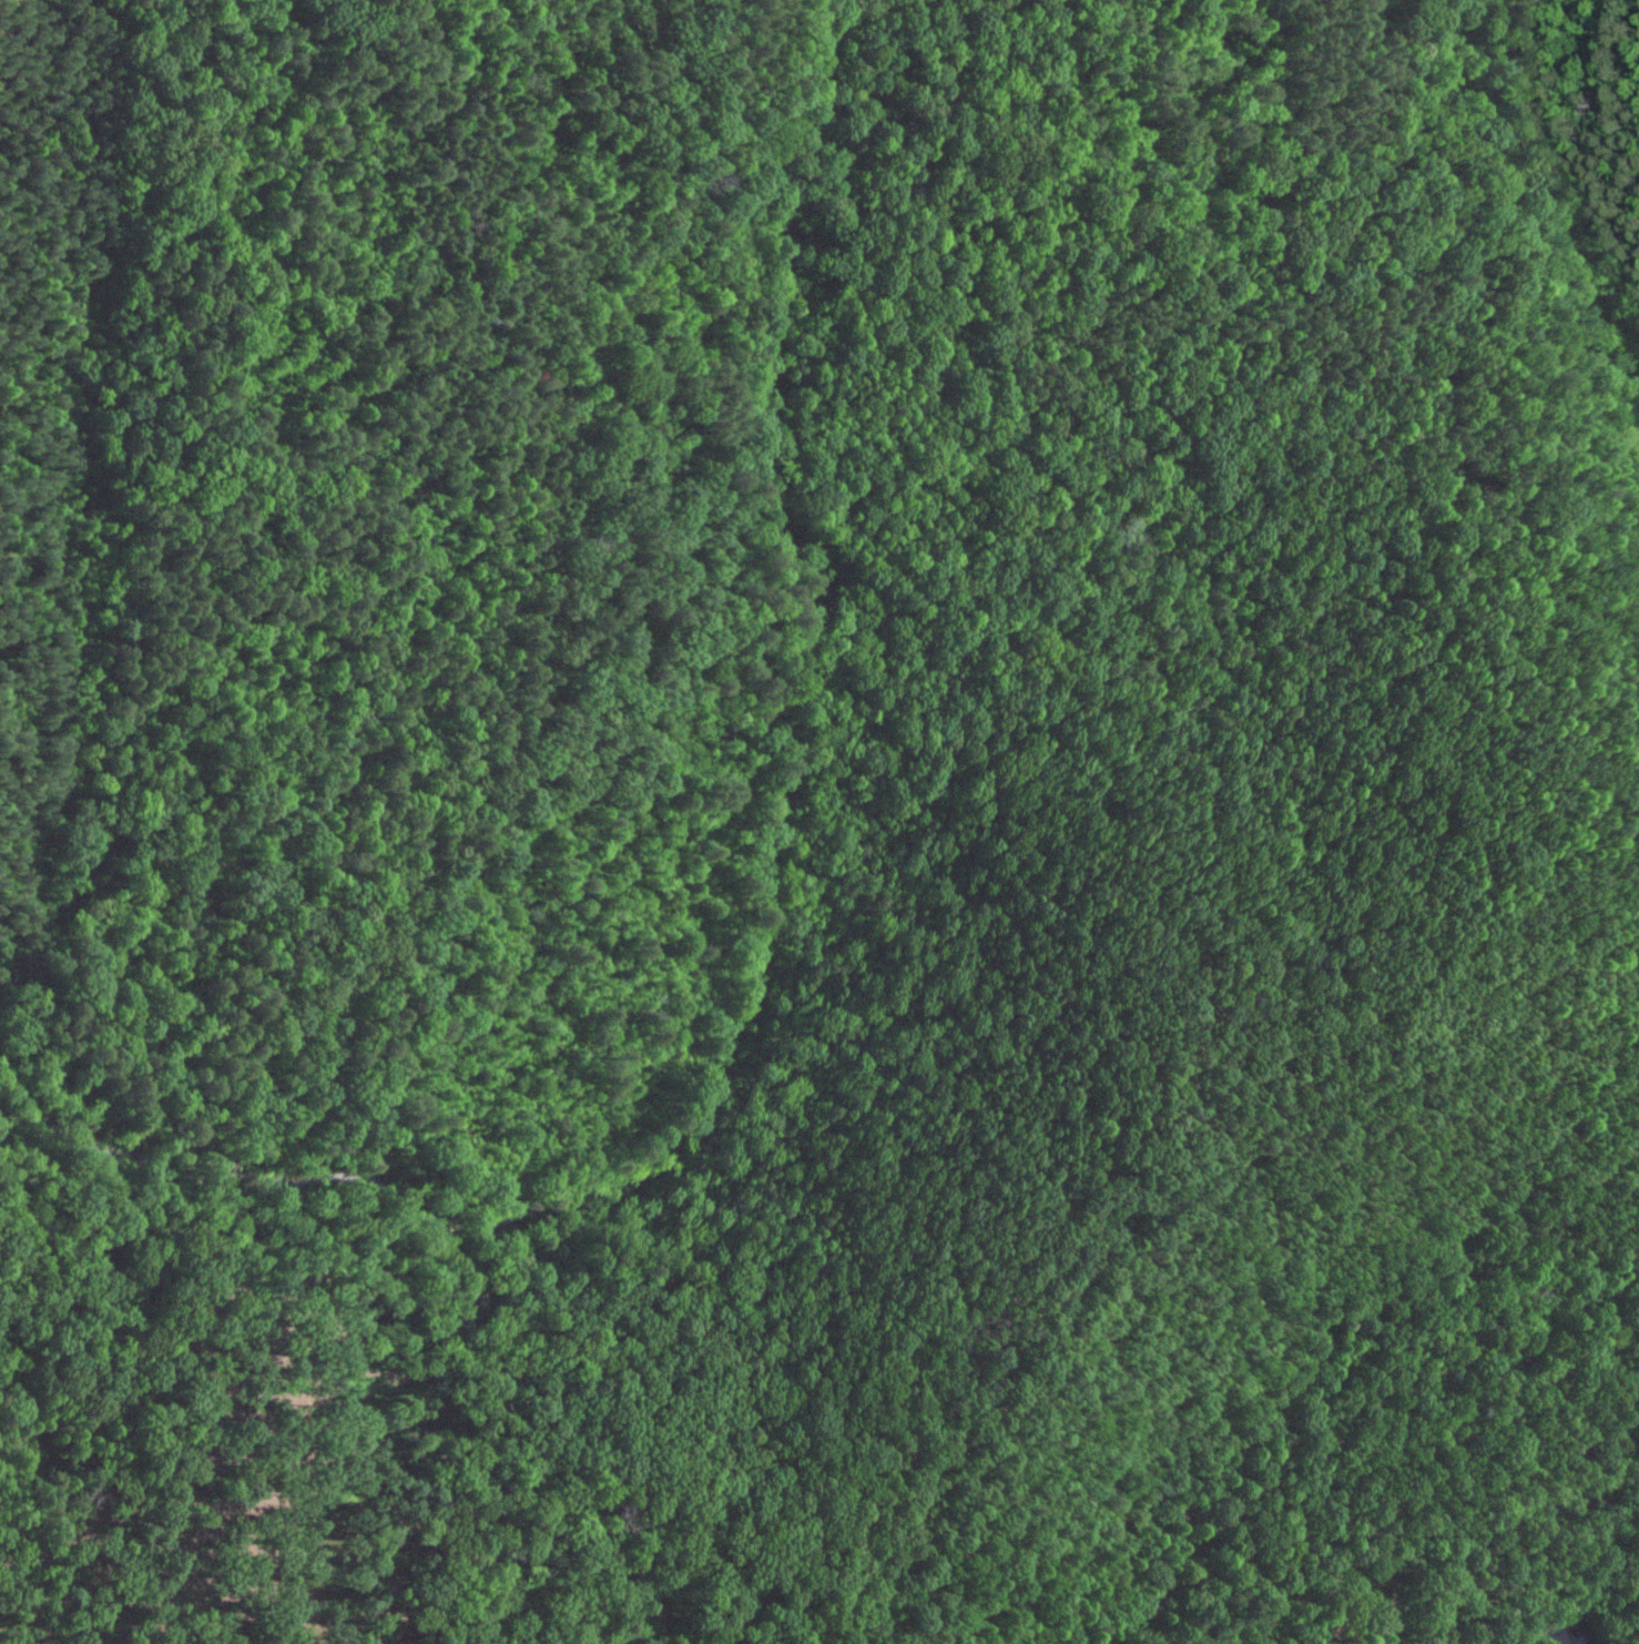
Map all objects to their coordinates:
road: (1233, 304)

